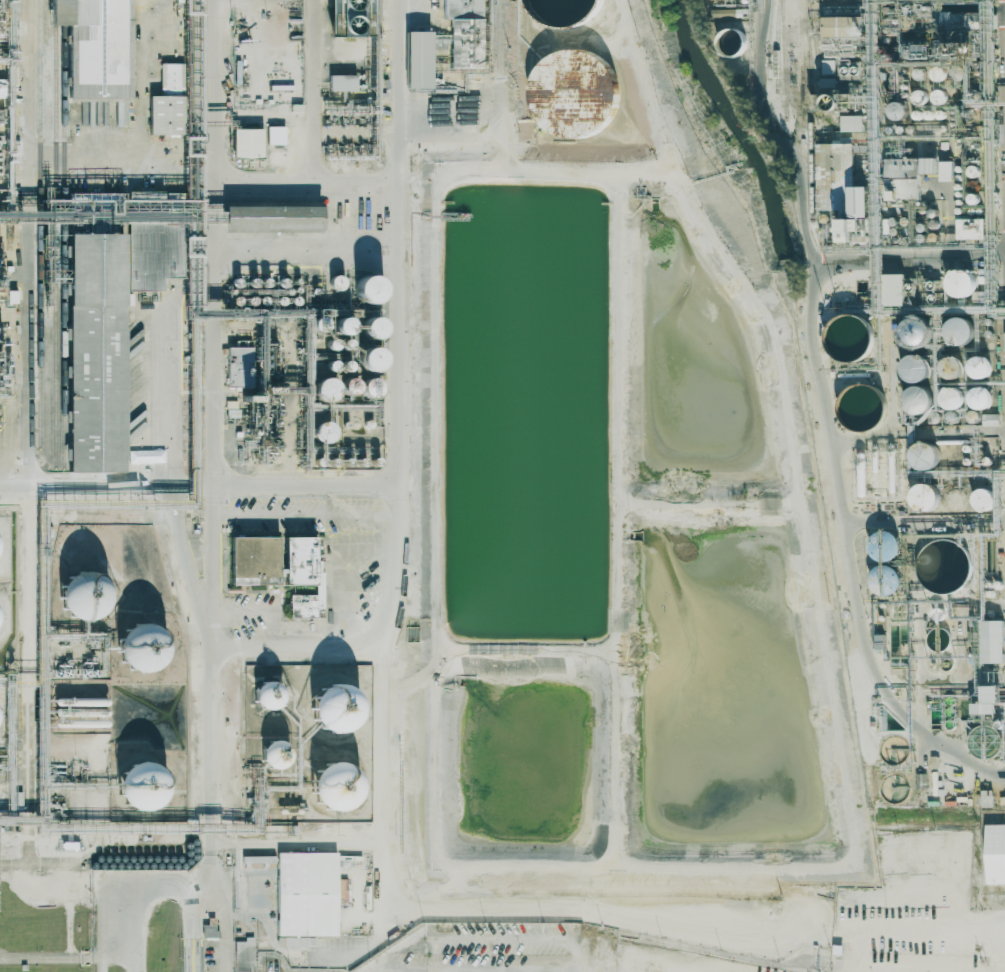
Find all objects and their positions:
building: (713, 0)
building: (344, 16)
building: (842, 25)
building: (464, 32)
railway: (776, 45)
building: (93, 46)
building: (416, 59)
railway: (784, 59)
railway: (800, 62)
building: (828, 66)
building: (168, 78)
building: (341, 82)
road: (312, 91)
building: (572, 92)
railway: (810, 110)
building: (162, 114)
building: (851, 122)
road: (781, 132)
building: (275, 135)
building: (246, 142)
building: (1, 164)
building: (929, 164)
building: (946, 170)
building: (905, 175)
building: (839, 180)
road: (304, 183)
building: (270, 218)
railway: (40, 224)
building: (848, 227)
building: (971, 228)
railway: (55, 233)
railway: (63, 233)
road: (29, 242)
road: (396, 242)
building: (154, 245)
building: (960, 282)
building: (365, 287)
building: (893, 289)
building: (11, 296)
building: (339, 324)
building: (958, 330)
building: (97, 351)
building: (366, 358)
building: (950, 365)
building: (238, 366)
building: (977, 366)
building: (915, 367)
building: (324, 389)
road: (158, 397)
building: (950, 397)
building: (980, 397)
building: (917, 399)
building: (860, 406)
building: (990, 419)
building: (324, 432)
building: (924, 455)
road: (835, 460)
road: (199, 487)
building: (925, 496)
building: (983, 500)
building: (883, 546)
building: (254, 560)
building: (302, 575)
building: (81, 596)
building: (991, 641)
road: (298, 643)
building: (138, 648)
road: (382, 661)
building: (267, 696)
building: (987, 701)
building: (332, 709)
road: (221, 728)
building: (273, 755)
road: (26, 771)
building: (139, 787)
building: (331, 788)
road: (300, 843)
building: (995, 853)
building: (308, 894)
road: (666, 920)
building: (209, 928)
parking lot: (485, 950)
building: (244, 955)
road: (448, 971)

